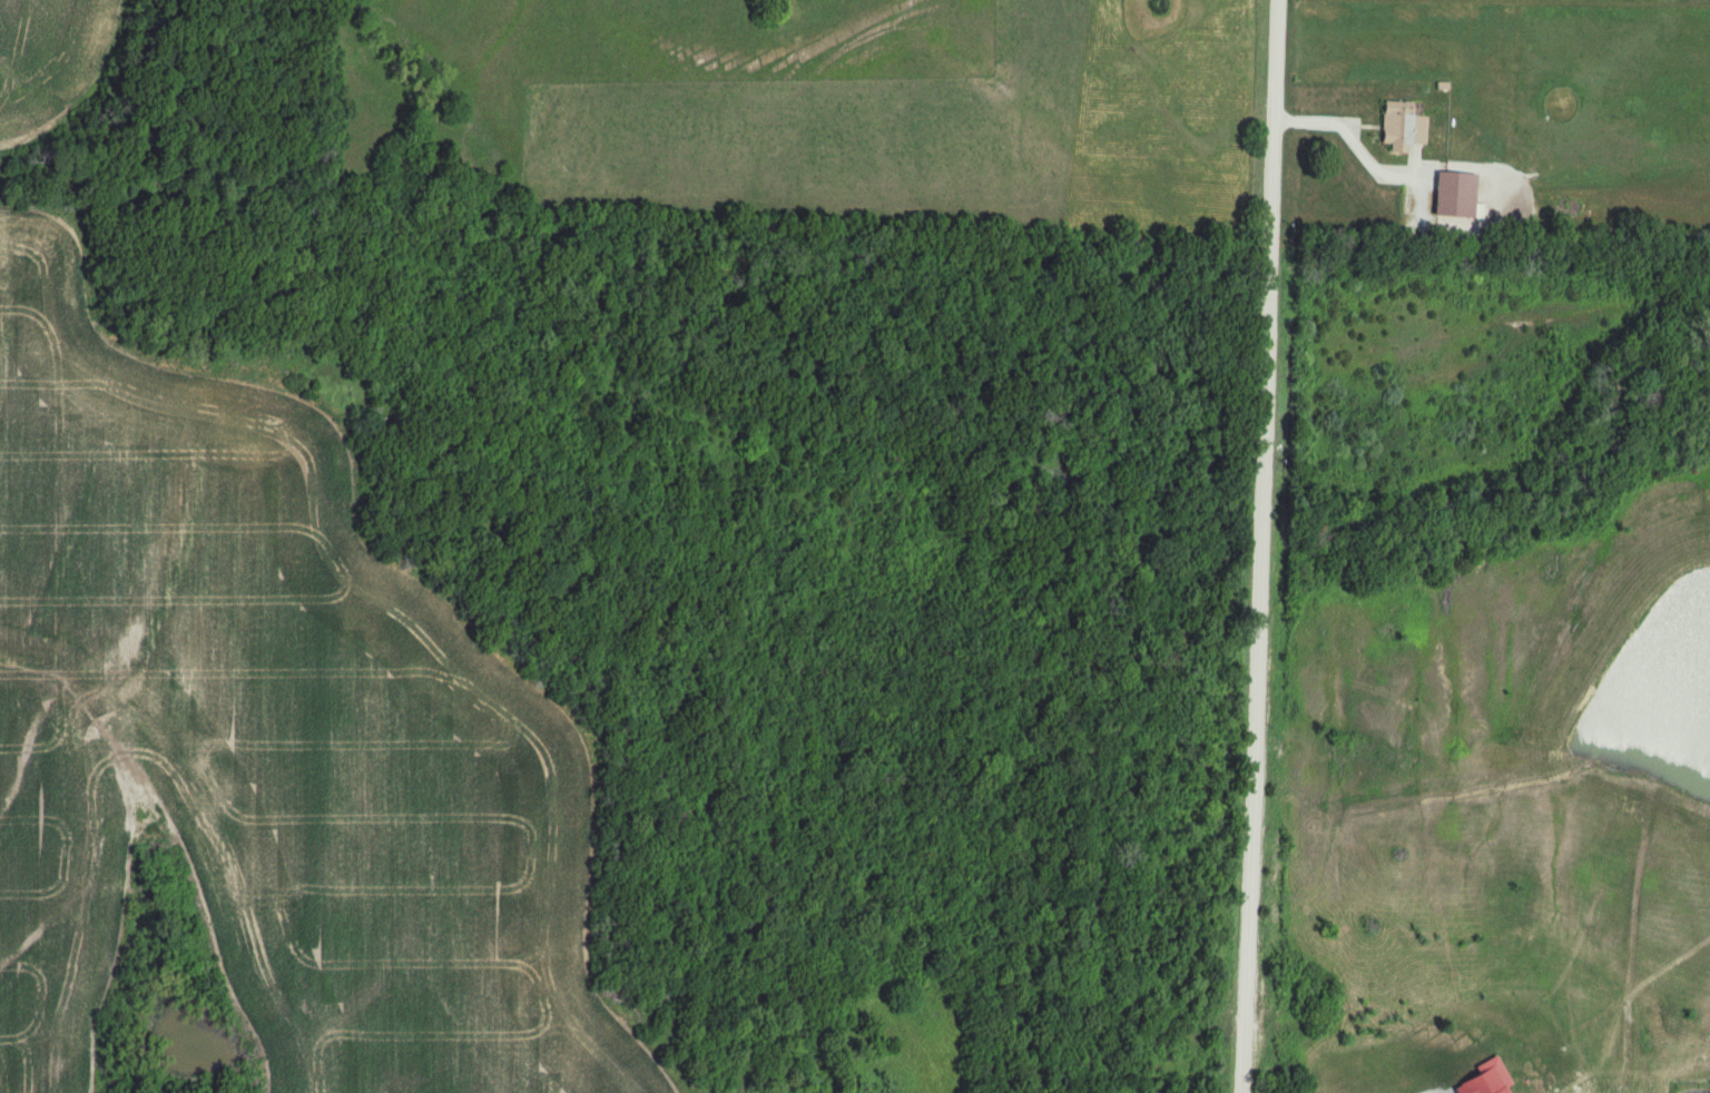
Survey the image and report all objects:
building: (1402, 124)
road: (1352, 130)
building: (1457, 194)
road: (1259, 545)

